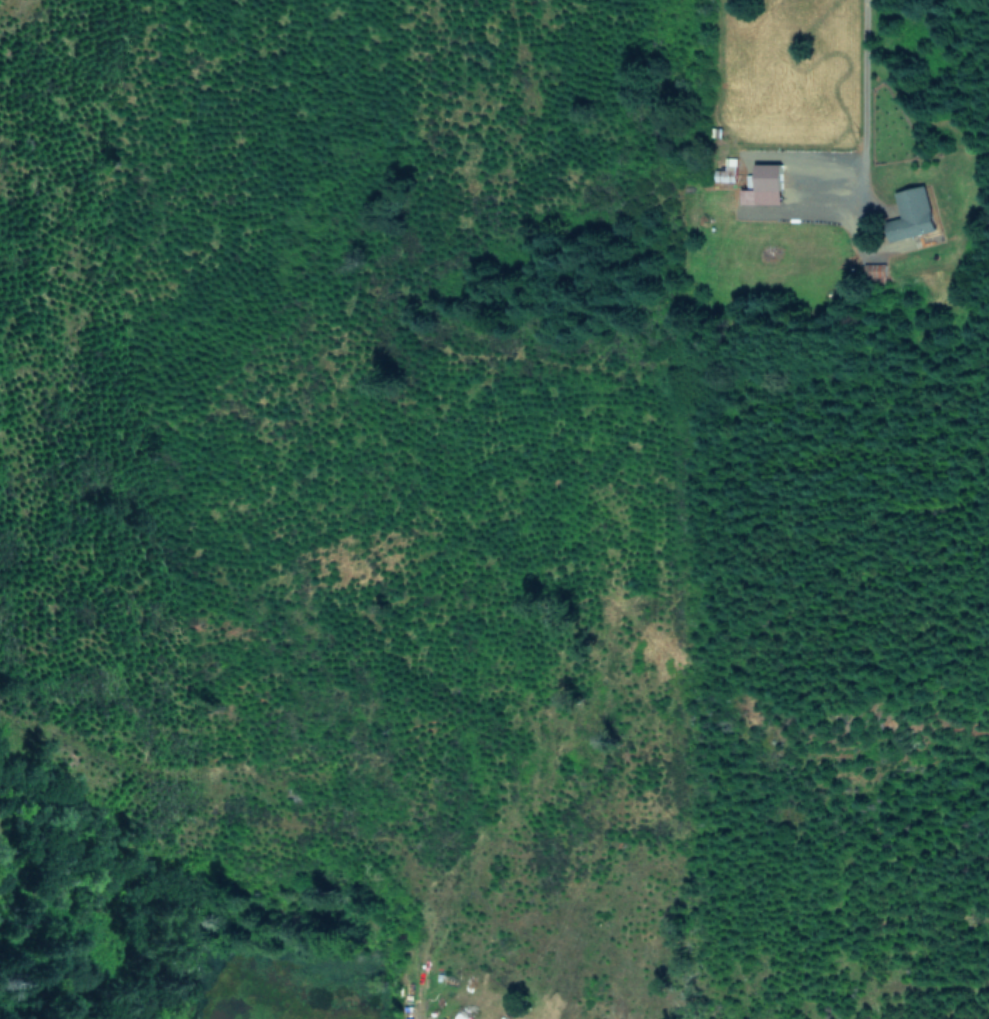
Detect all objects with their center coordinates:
road: (862, 84)
building: (763, 184)

